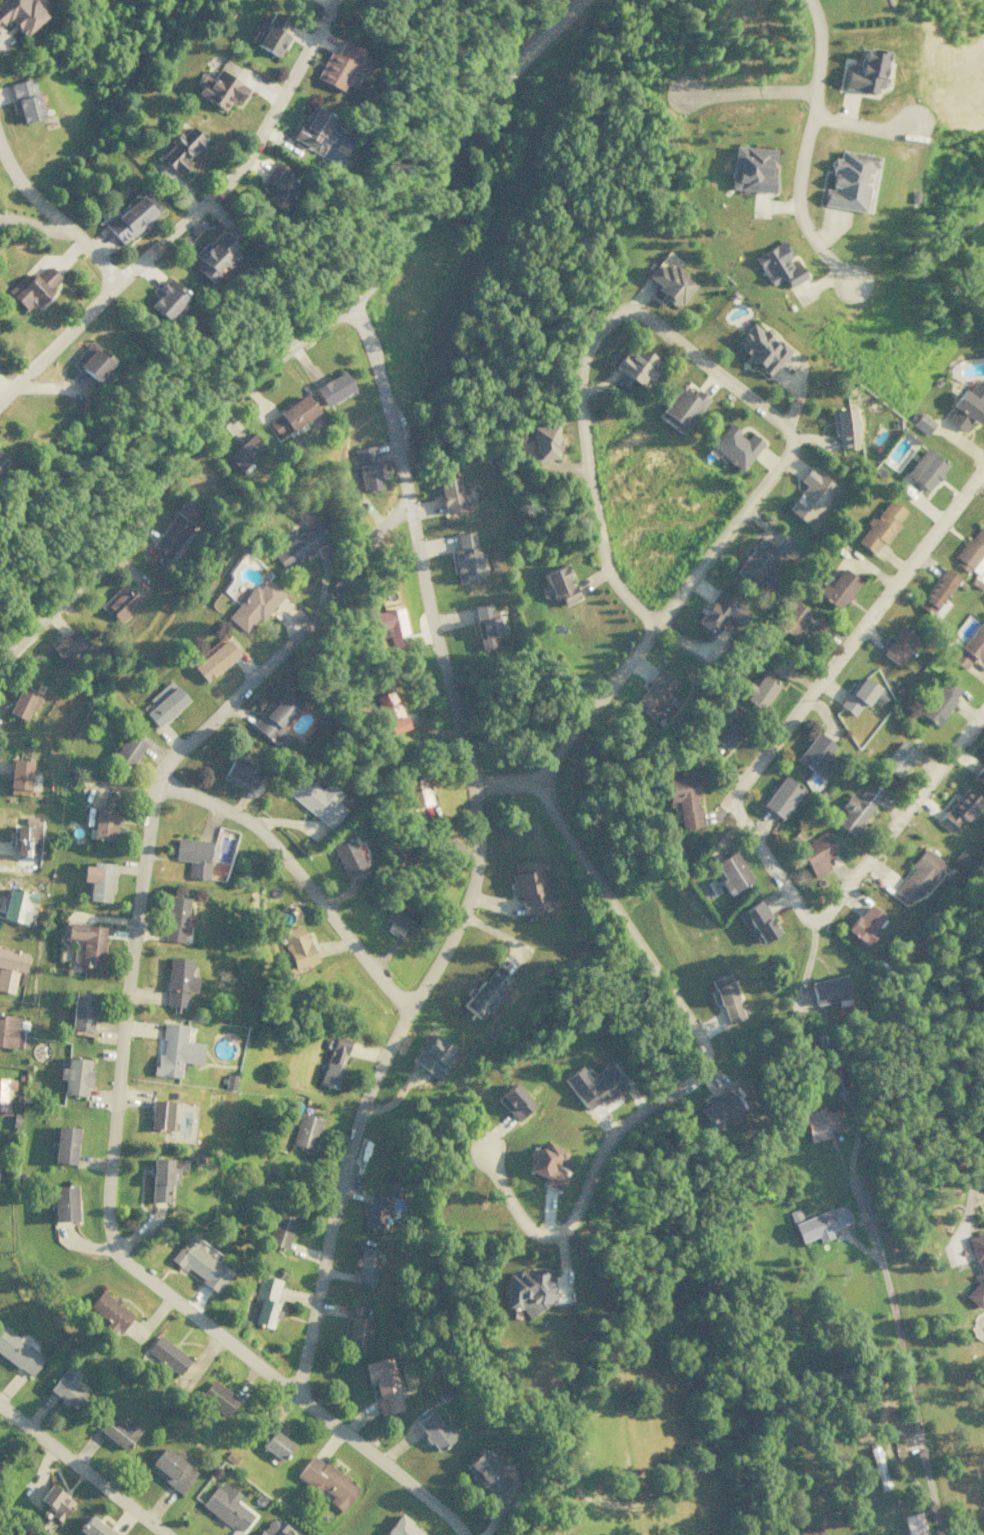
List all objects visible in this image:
building: (20, 14)
building: (271, 35)
building: (342, 66)
building: (866, 71)
building: (219, 90)
road: (746, 91)
building: (24, 100)
road: (862, 125)
building: (314, 128)
building: (181, 149)
road: (803, 149)
building: (751, 168)
building: (847, 181)
building: (275, 186)
road: (55, 216)
building: (131, 216)
road: (188, 217)
road: (36, 225)
building: (213, 256)
building: (778, 265)
building: (670, 282)
building: (32, 287)
building: (164, 299)
road: (300, 338)
building: (760, 348)
building: (92, 363)
building: (638, 364)
building: (332, 388)
road: (739, 393)
building: (967, 406)
building: (681, 408)
building: (291, 416)
building: (922, 423)
building: (844, 427)
building: (544, 442)
building: (735, 446)
building: (244, 452)
building: (2, 463)
building: (365, 468)
building: (925, 469)
road: (983, 470)
building: (450, 495)
building: (811, 496)
building: (881, 526)
building: (176, 528)
building: (298, 545)
building: (971, 552)
building: (466, 558)
building: (765, 559)
building: (558, 584)
building: (837, 588)
building: (937, 593)
building: (120, 603)
building: (254, 605)
building: (719, 612)
building: (792, 621)
building: (816, 623)
building: (486, 625)
building: (389, 626)
building: (68, 645)
building: (897, 645)
building: (970, 647)
building: (215, 659)
building: (778, 667)
building: (761, 691)
building: (655, 693)
building: (858, 695)
building: (21, 702)
building: (939, 702)
building: (164, 703)
building: (390, 711)
building: (274, 720)
building: (727, 727)
building: (127, 750)
building: (815, 754)
building: (897, 758)
building: (241, 772)
building: (979, 772)
building: (19, 776)
road: (508, 785)
building: (416, 792)
building: (782, 797)
building: (317, 800)
road: (732, 803)
building: (857, 807)
building: (958, 809)
building: (103, 823)
building: (24, 839)
building: (814, 851)
building: (346, 855)
building: (193, 856)
building: (963, 858)
road: (475, 861)
building: (730, 872)
building: (953, 875)
building: (916, 876)
road: (298, 877)
building: (98, 880)
building: (531, 885)
building: (17, 904)
building: (400, 916)
building: (174, 918)
building: (757, 920)
building: (864, 924)
building: (87, 942)
building: (296, 946)
building: (10, 967)
building: (178, 981)
building: (830, 991)
building: (485, 993)
building: (726, 997)
building: (82, 1010)
building: (11, 1033)
building: (174, 1051)
road: (118, 1054)
building: (433, 1055)
building: (334, 1061)
road: (696, 1074)
building: (74, 1075)
building: (836, 1080)
building: (593, 1085)
building: (5, 1090)
building: (514, 1101)
building: (719, 1109)
building: (159, 1114)
building: (821, 1124)
building: (304, 1131)
building: (65, 1145)
road: (975, 1146)
building: (547, 1164)
building: (160, 1178)
building: (63, 1203)
building: (374, 1211)
building: (819, 1223)
building: (279, 1230)
building: (198, 1264)
building: (365, 1266)
building: (977, 1270)
building: (527, 1290)
building: (265, 1300)
building: (109, 1312)
building: (357, 1327)
building: (18, 1351)
building: (166, 1354)
road: (901, 1356)
building: (382, 1384)
building: (66, 1387)
building: (217, 1397)
building: (436, 1430)
building: (118, 1431)
building: (275, 1444)
building: (171, 1468)
road: (82, 1471)
building: (487, 1471)
building: (326, 1481)
building: (54, 1501)
building: (226, 1506)
building: (913, 1524)
building: (93, 1527)
building: (271, 1528)
building: (401, 1528)

